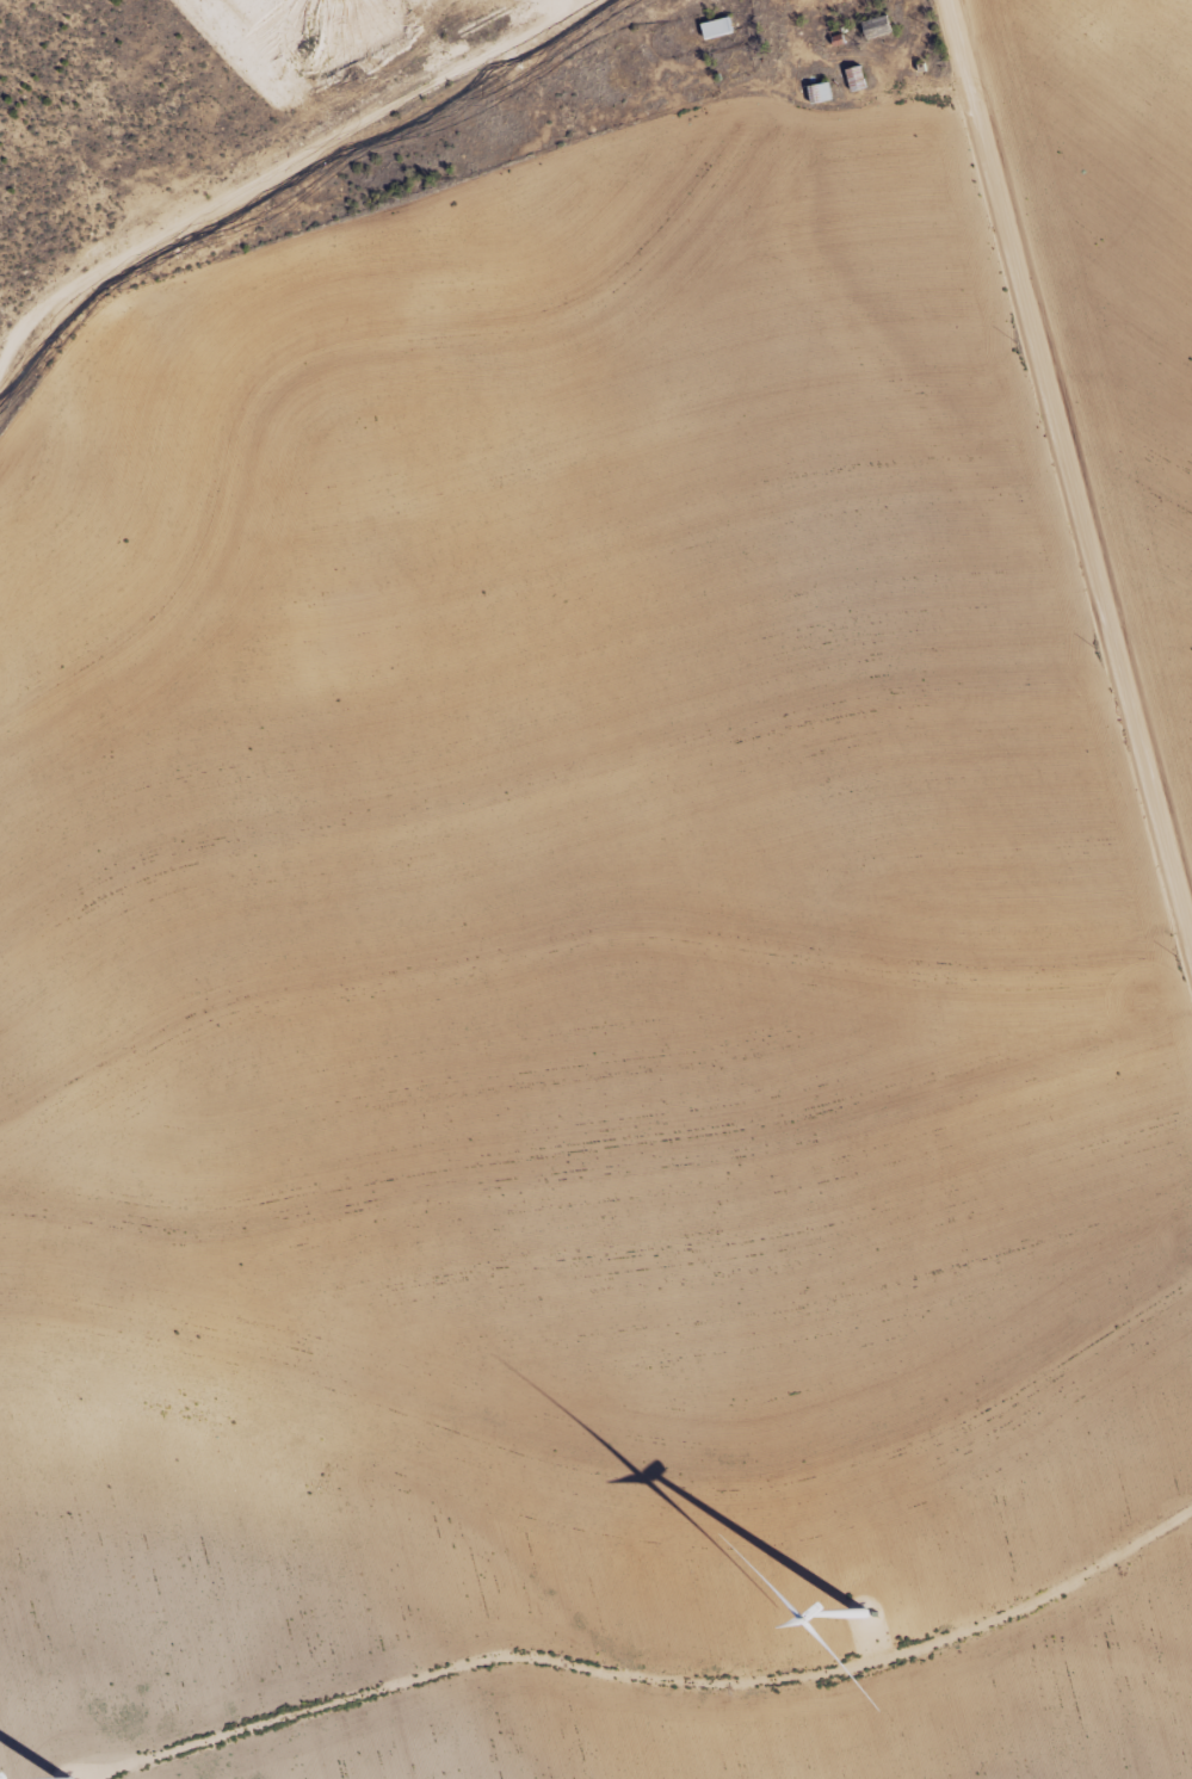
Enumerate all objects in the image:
building: (877, 25)
building: (717, 26)
building: (836, 37)
building: (856, 78)
building: (820, 92)
road: (1067, 482)
wind turbine: (866, 1612)

